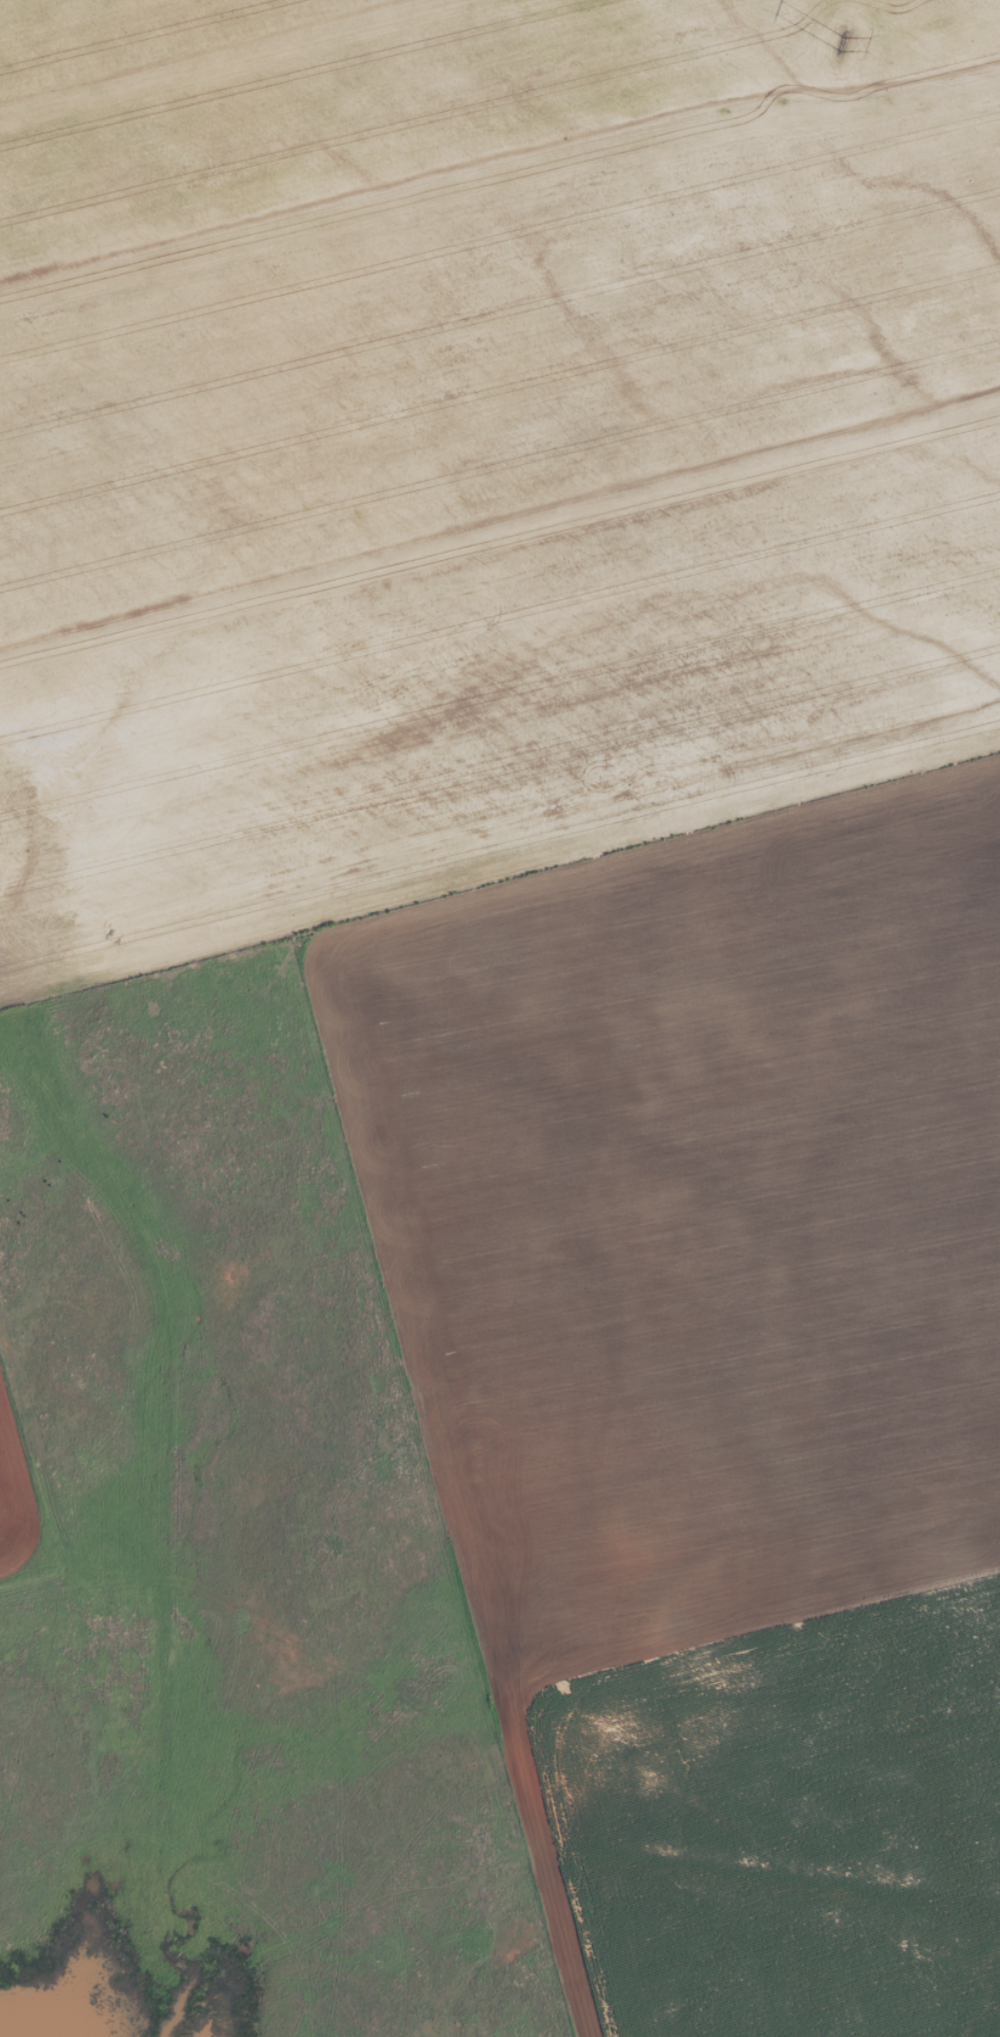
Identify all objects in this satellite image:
power tower: (842, 46)

